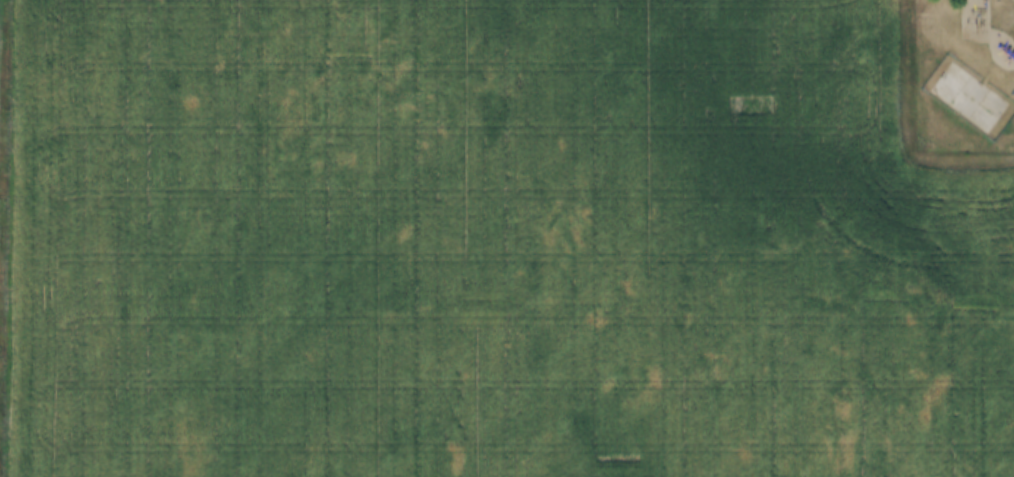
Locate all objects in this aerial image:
park: (959, 98)

